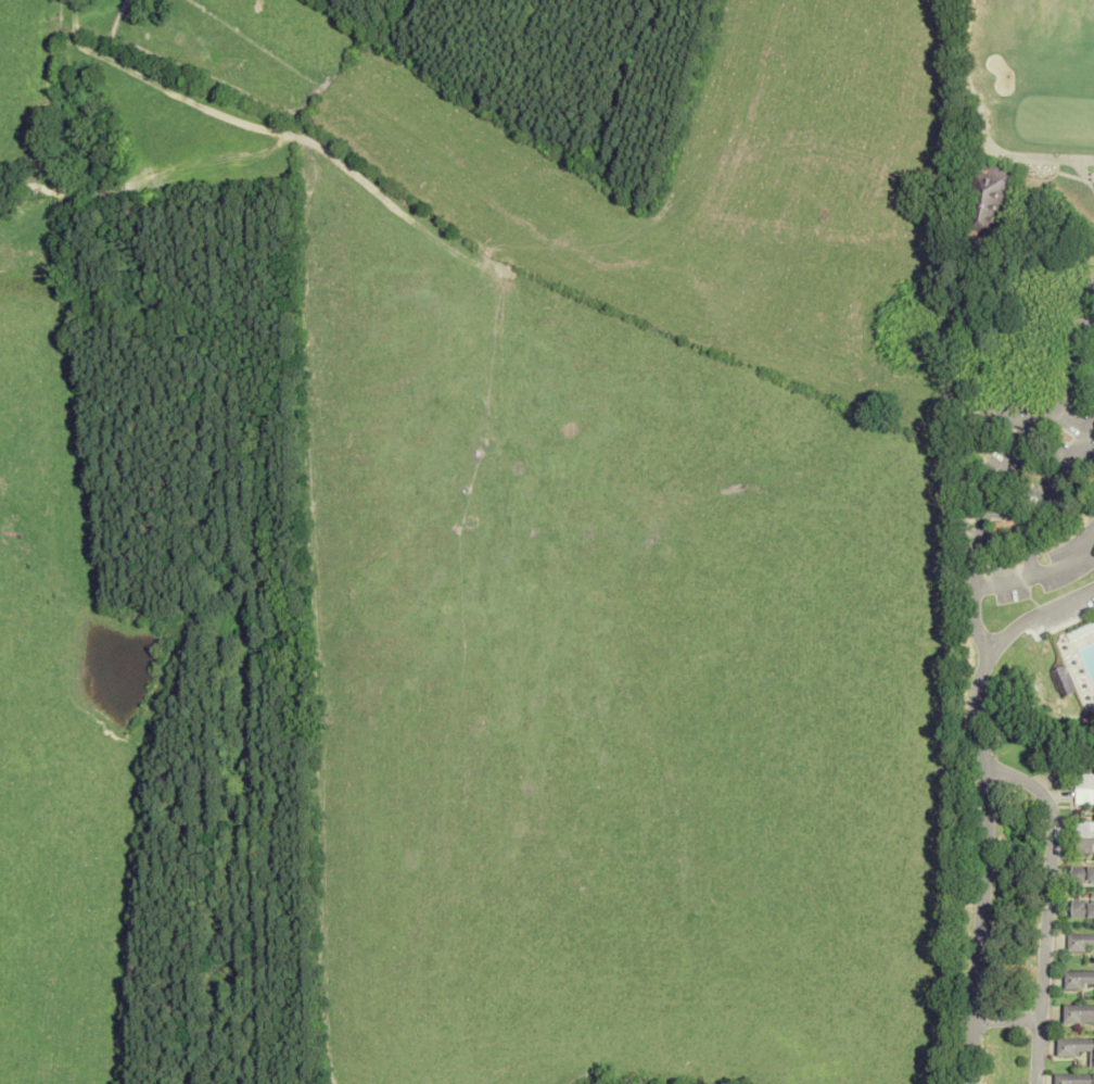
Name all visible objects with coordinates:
building: (984, 205)
road: (975, 621)
building: (1061, 681)
building: (1085, 789)
building: (1085, 836)
road: (985, 867)
building: (1082, 875)
road: (1046, 907)
building: (1082, 909)
building: (1081, 942)
building: (1079, 980)
building: (1079, 1012)
road: (1008, 1017)
building: (1077, 1046)
building: (1074, 1079)

